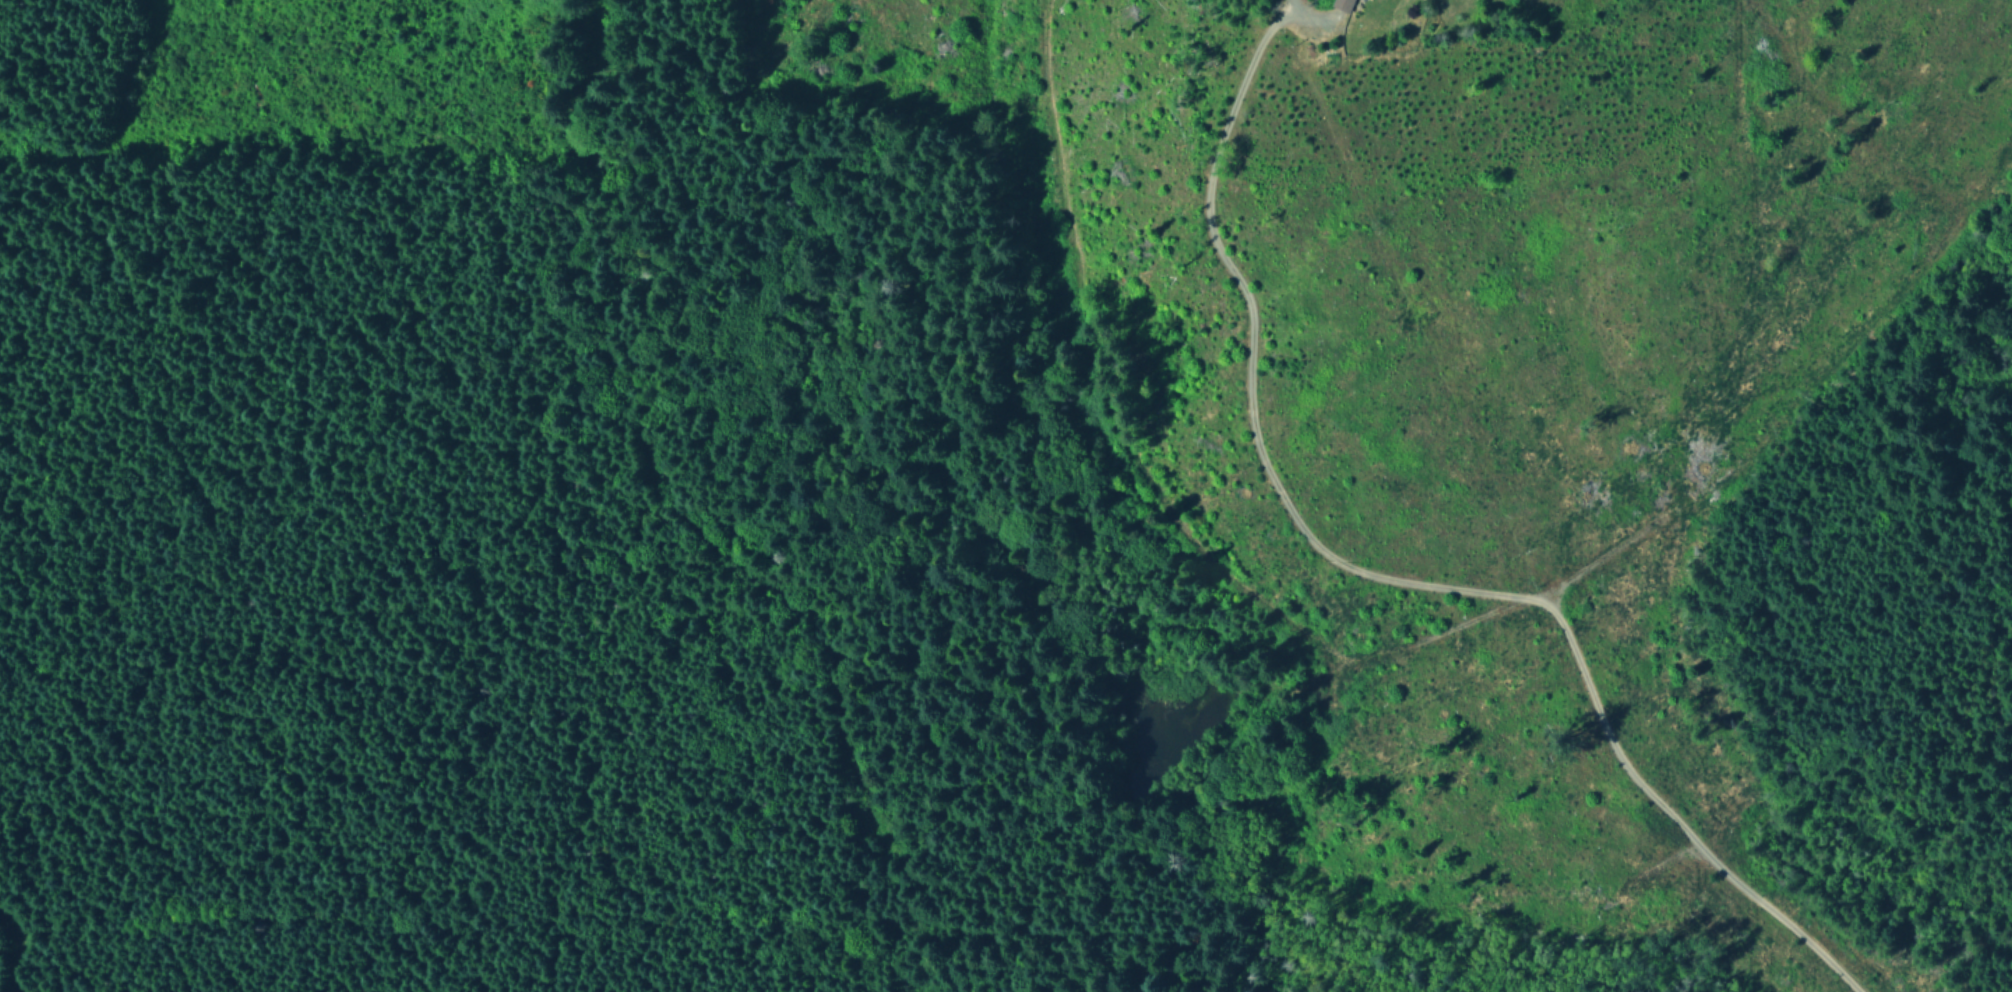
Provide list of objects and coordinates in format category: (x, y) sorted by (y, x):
building: (1342, 5)
road: (1441, 535)

